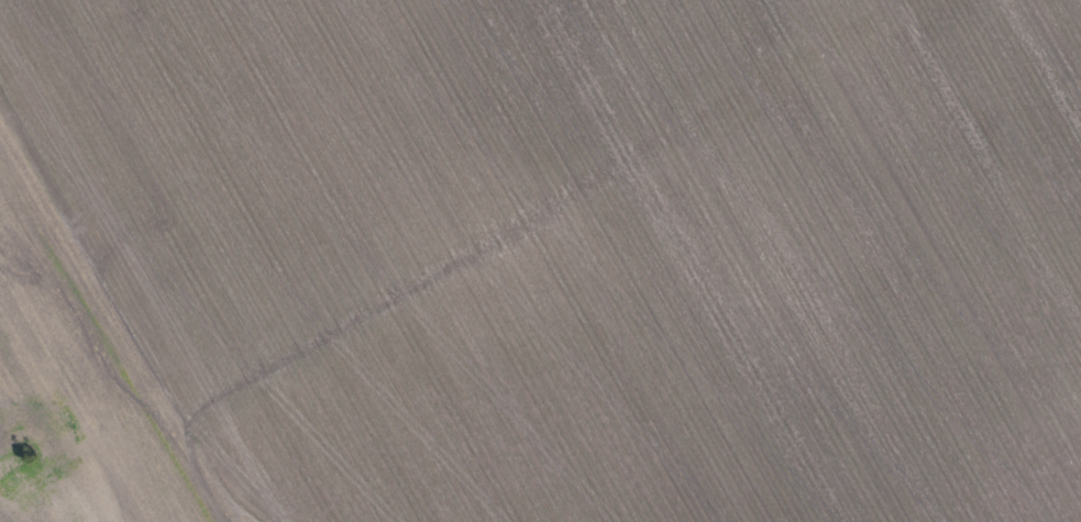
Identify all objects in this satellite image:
road: (115, 322)

